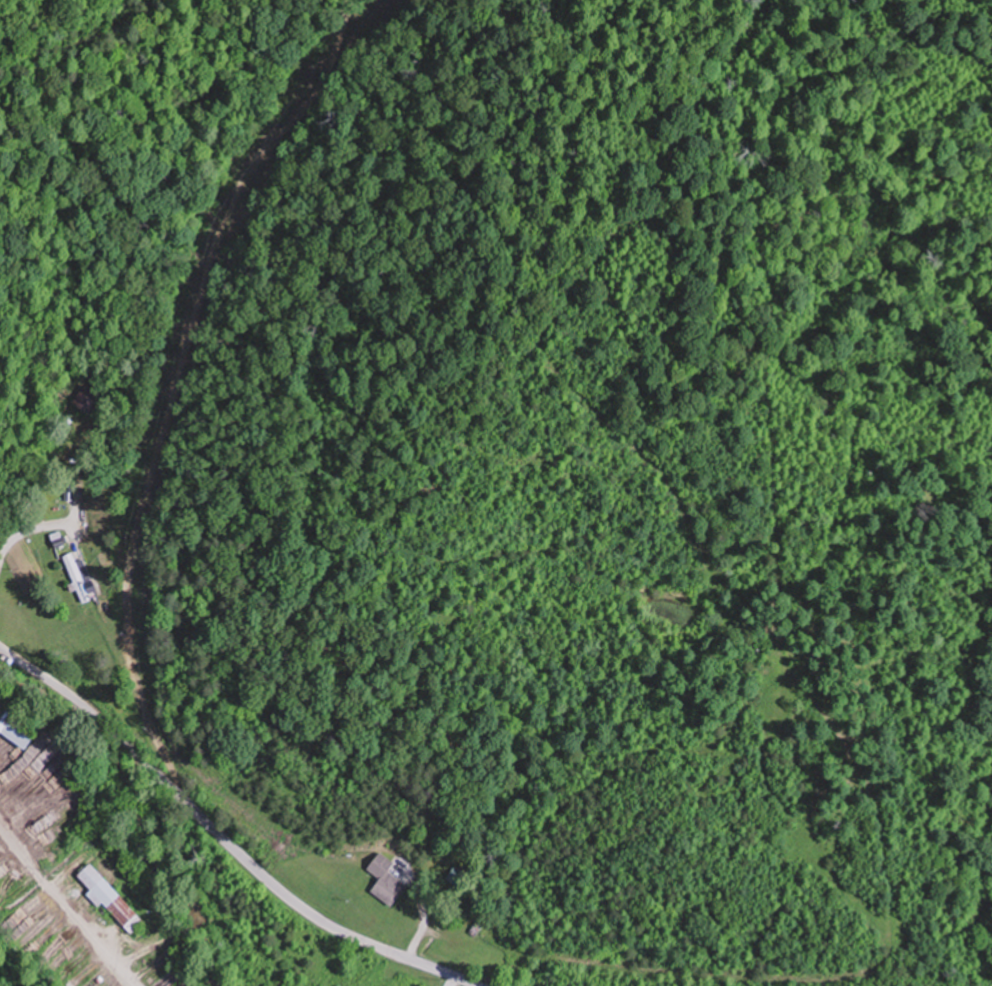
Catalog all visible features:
building: (85, 400)
building: (78, 577)
building: (18, 725)
road: (224, 837)
building: (0, 878)
building: (388, 881)
building: (111, 897)

